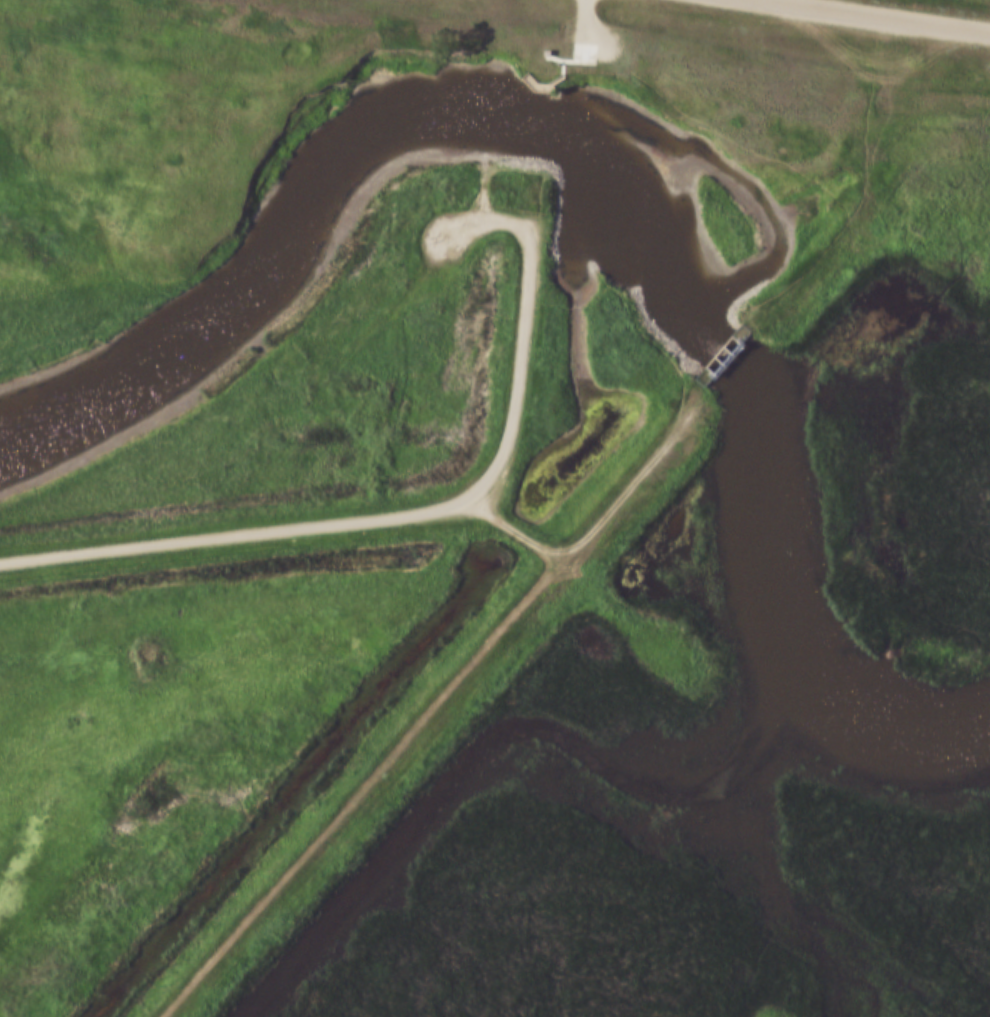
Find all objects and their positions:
road: (886, 14)
road: (591, 23)
river: (379, 138)
road: (807, 158)
road: (425, 506)
road: (518, 527)
river: (799, 619)
dam: (539, 627)
road: (437, 704)

